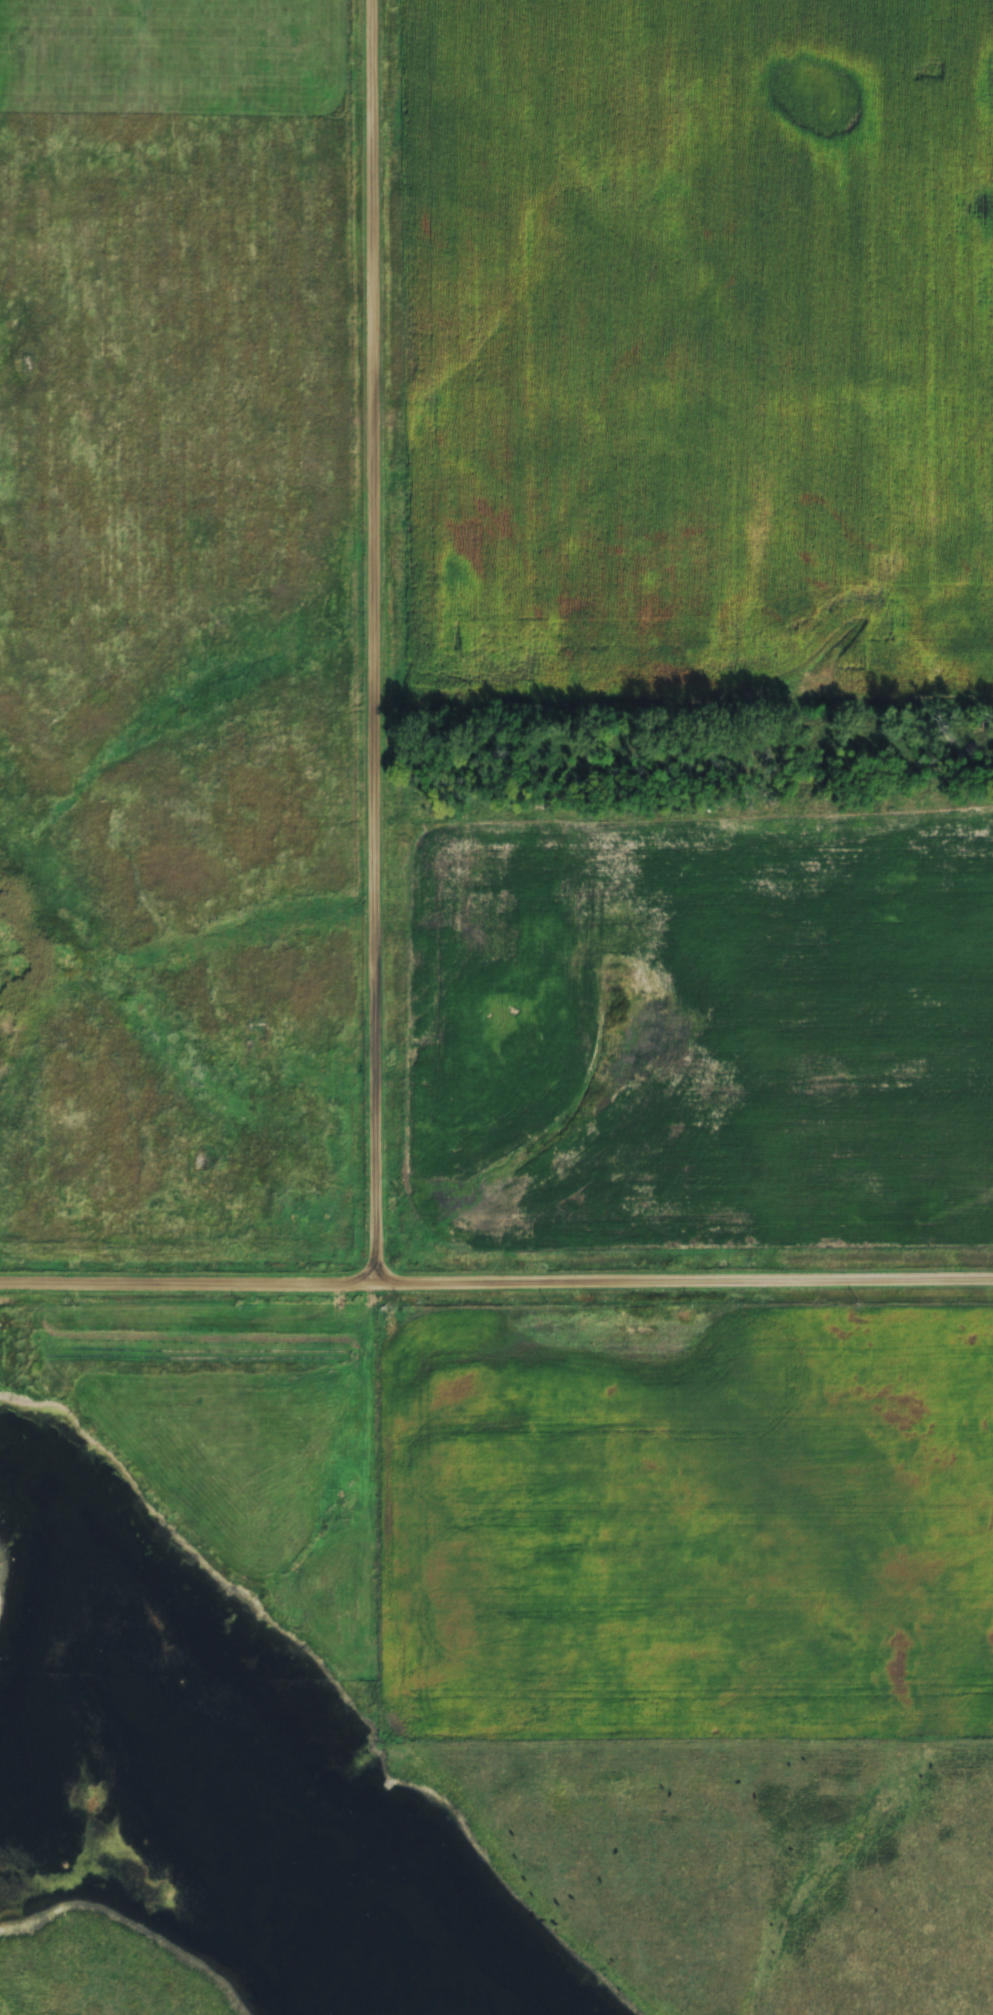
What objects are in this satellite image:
road: (373, 641)
road: (496, 1282)

